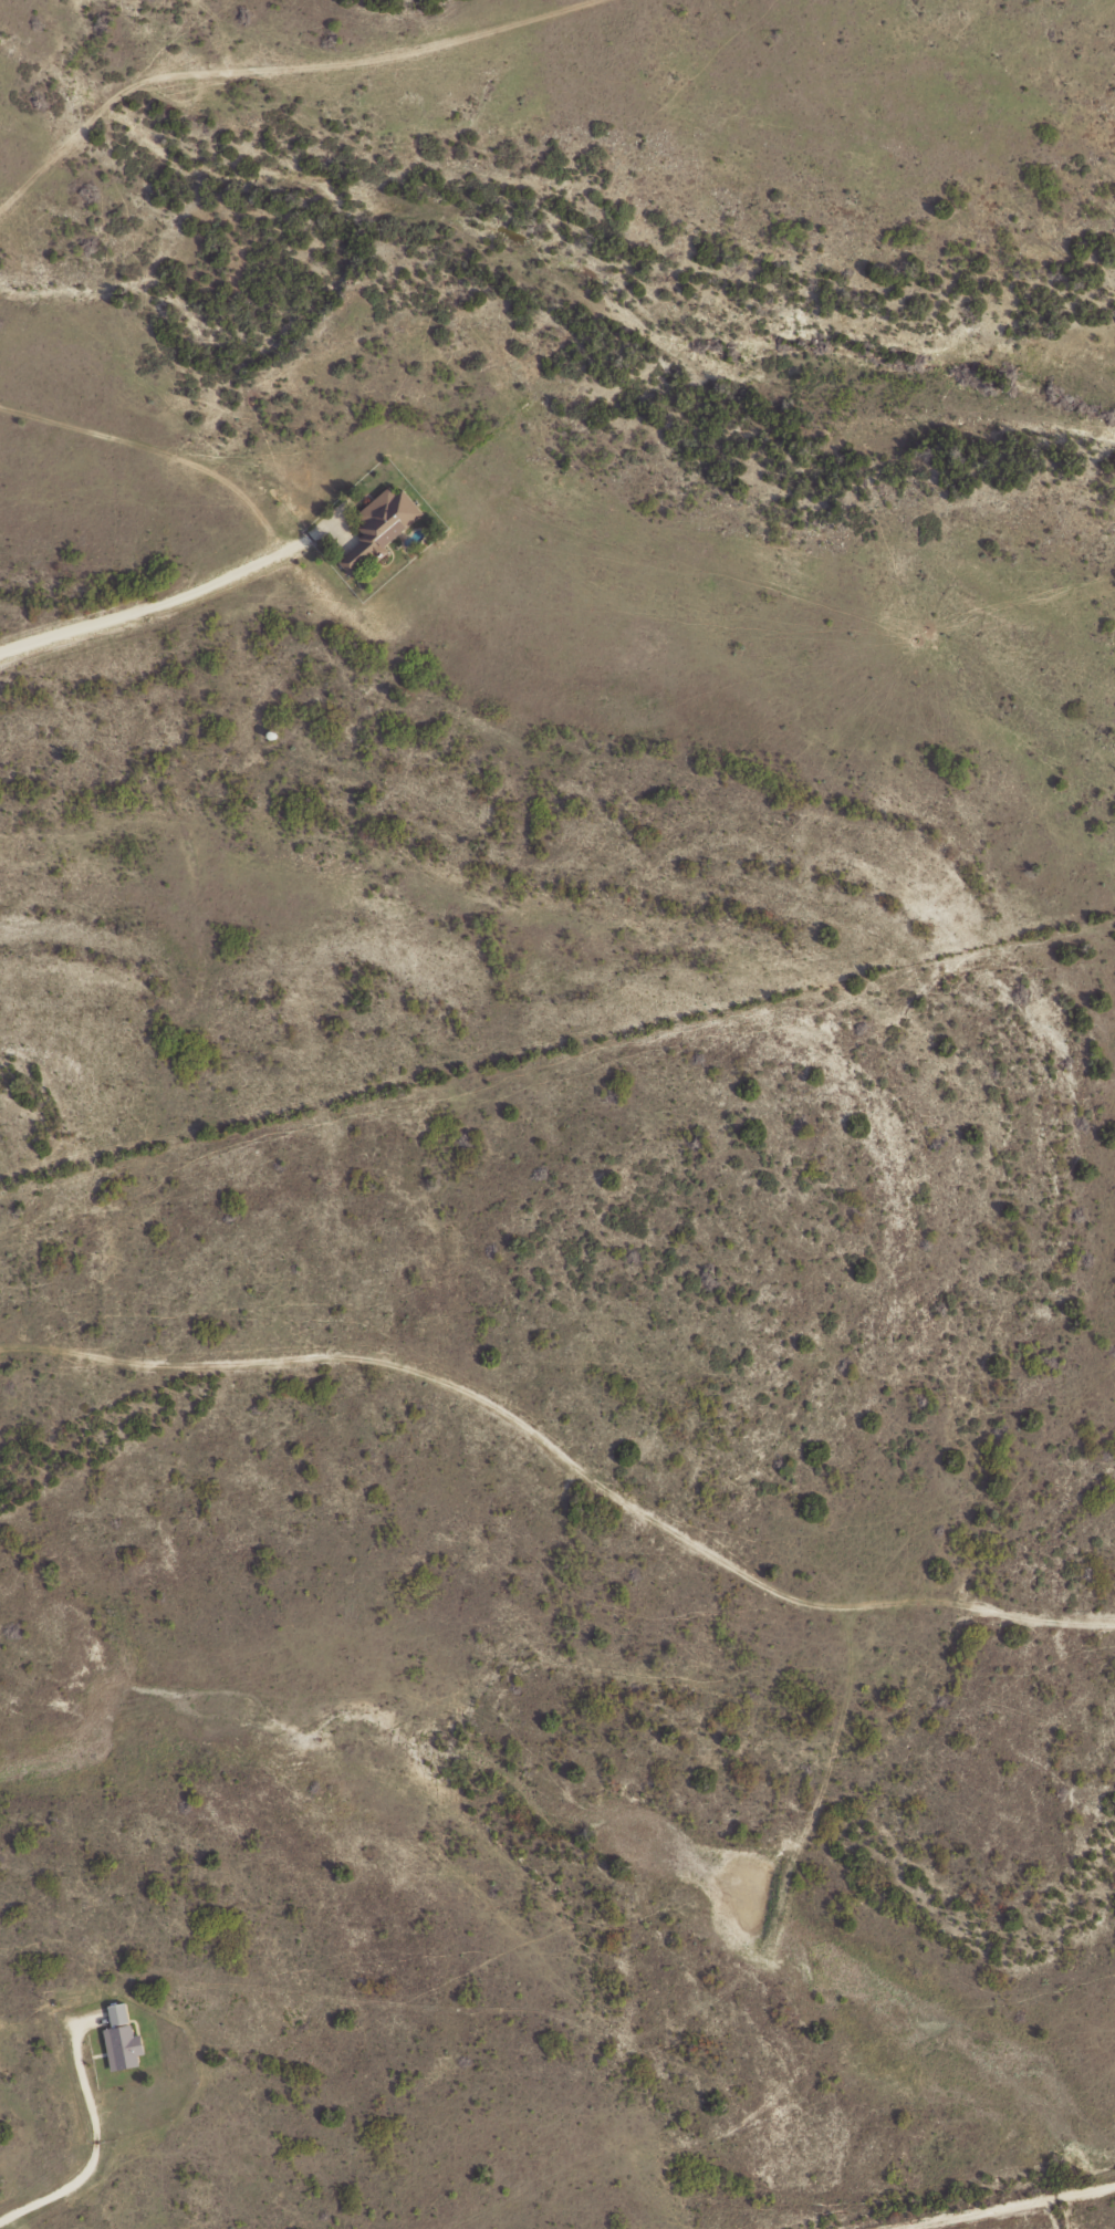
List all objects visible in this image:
road: (146, 606)
building: (123, 2039)
road: (95, 2139)

